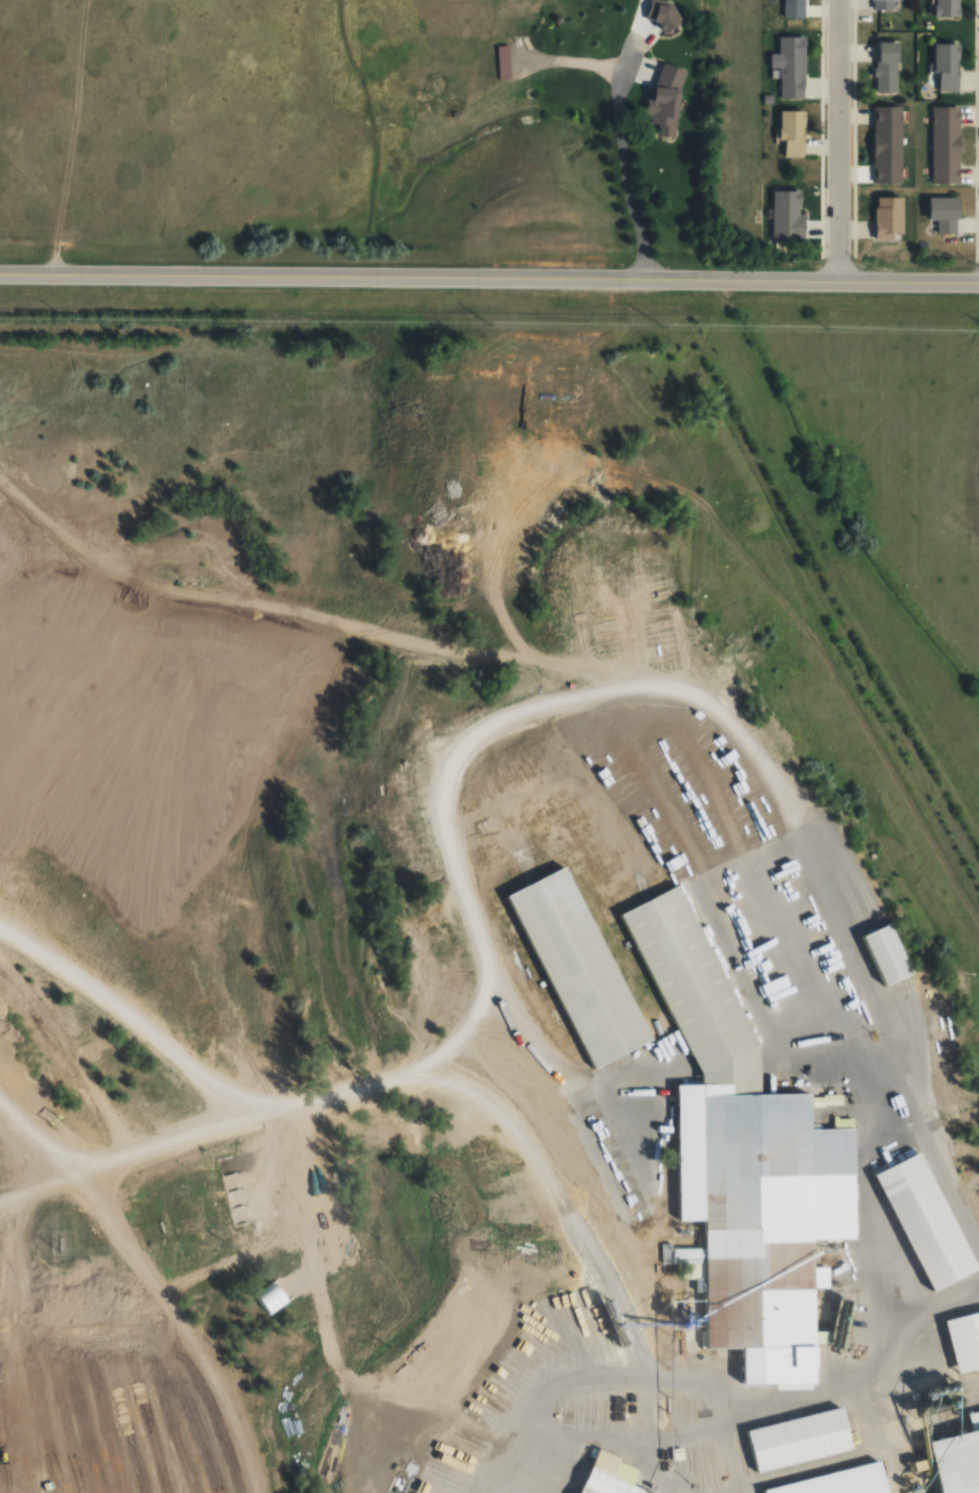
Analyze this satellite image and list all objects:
building: (883, 4)
building: (793, 8)
building: (946, 8)
building: (663, 14)
building: (502, 62)
building: (790, 66)
building: (887, 66)
building: (947, 67)
building: (666, 99)
building: (792, 133)
road: (835, 138)
building: (944, 143)
building: (887, 144)
road: (622, 151)
building: (787, 213)
building: (944, 213)
building: (889, 218)
road: (341, 273)
road: (724, 275)
road: (872, 276)
building: (528, 377)
road: (322, 618)
road: (484, 724)
building: (880, 943)
building: (574, 953)
road: (131, 1015)
building: (609, 1141)
building: (739, 1150)
building: (919, 1221)
building: (817, 1278)
road: (152, 1279)
road: (889, 1337)
building: (963, 1341)
building: (797, 1427)
building: (957, 1459)
building: (836, 1482)
building: (599, 1484)

